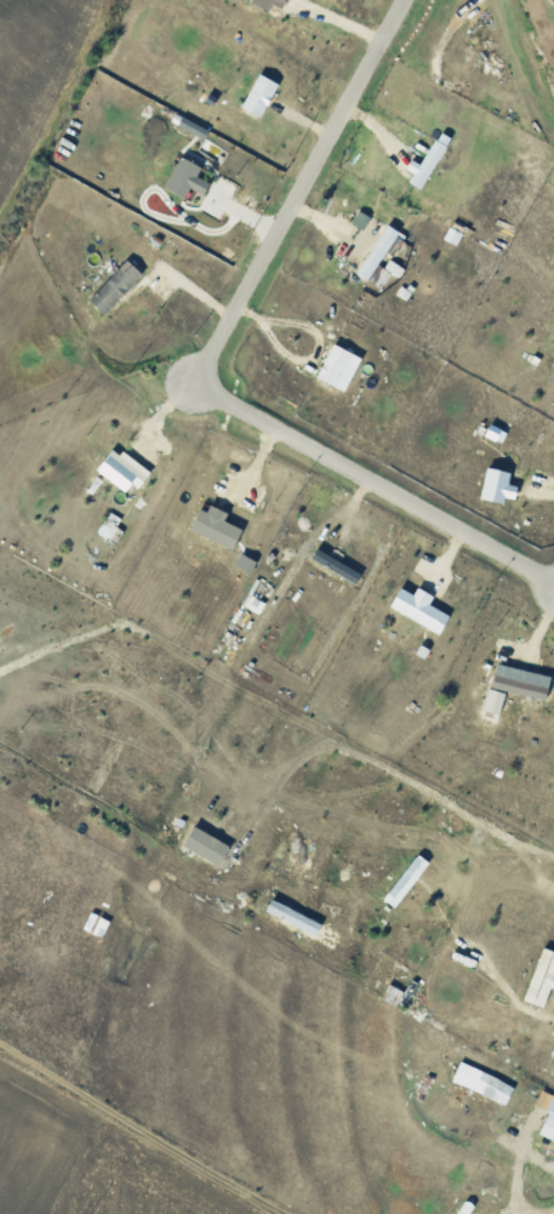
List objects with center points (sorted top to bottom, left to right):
building: (267, 2)
building: (261, 93)
building: (427, 164)
building: (188, 177)
building: (383, 244)
building: (116, 286)
building: (341, 366)
road: (205, 376)
building: (553, 376)
building: (128, 466)
building: (499, 485)
building: (218, 525)
building: (246, 563)
building: (337, 565)
building: (257, 597)
building: (422, 608)
building: (522, 680)
building: (496, 701)
road: (261, 796)
building: (209, 845)
building: (407, 879)
road: (522, 882)
building: (543, 979)
building: (552, 1073)
building: (485, 1083)
building: (549, 1124)
road: (153, 1129)
road: (549, 1155)
building: (468, 1207)

